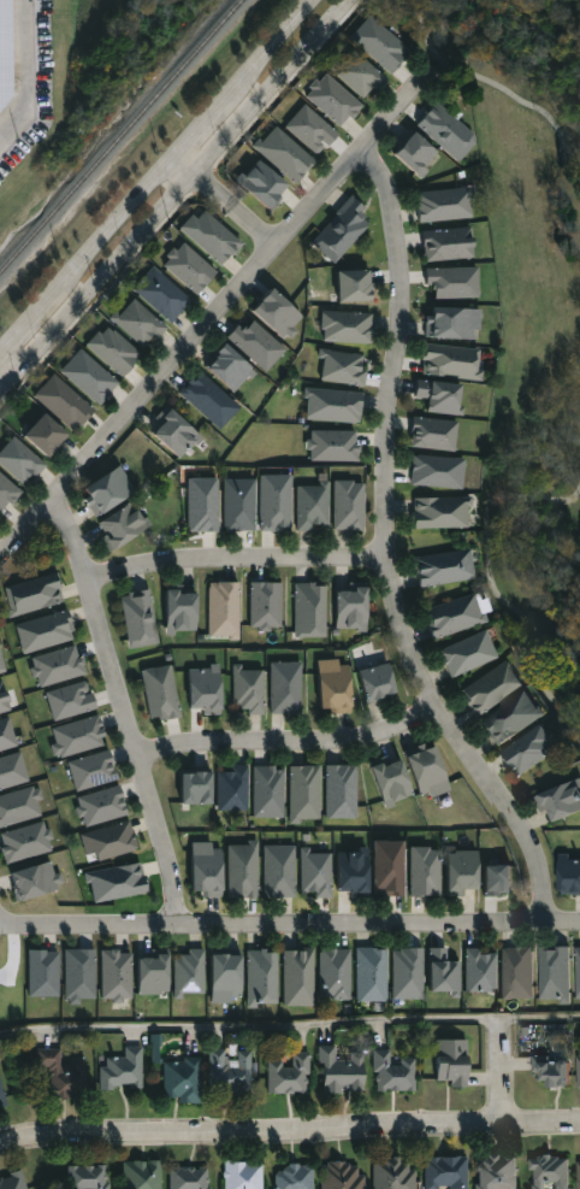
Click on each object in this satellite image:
road: (273, 43)
building: (379, 45)
building: (4, 49)
road: (28, 75)
building: (359, 76)
building: (333, 100)
road: (203, 122)
building: (312, 129)
building: (445, 131)
railway: (120, 135)
building: (284, 153)
building: (414, 155)
road: (184, 166)
building: (260, 183)
road: (213, 192)
road: (176, 196)
building: (443, 206)
road: (112, 225)
road: (253, 225)
building: (343, 231)
building: (211, 236)
building: (448, 243)
building: (189, 267)
building: (454, 282)
building: (353, 287)
building: (161, 295)
road: (214, 308)
building: (277, 314)
park: (529, 314)
park: (532, 319)
building: (138, 324)
road: (26, 325)
building: (452, 325)
building: (348, 328)
building: (256, 345)
building: (113, 351)
road: (0, 355)
road: (11, 364)
building: (450, 364)
building: (227, 369)
building: (344, 369)
building: (89, 377)
building: (439, 396)
building: (208, 400)
building: (64, 404)
building: (333, 406)
building: (433, 434)
building: (173, 435)
building: (45, 437)
building: (333, 446)
building: (19, 463)
building: (436, 472)
building: (106, 492)
building: (6, 493)
building: (276, 504)
building: (202, 506)
building: (239, 506)
building: (348, 506)
building: (312, 507)
building: (439, 514)
building: (120, 526)
road: (385, 548)
road: (233, 557)
building: (442, 570)
building: (34, 595)
building: (266, 605)
building: (223, 611)
building: (310, 611)
building: (349, 611)
building: (179, 613)
building: (452, 618)
building: (138, 619)
building: (45, 634)
building: (464, 654)
building: (57, 665)
building: (1, 666)
park: (575, 672)
building: (374, 683)
building: (331, 687)
building: (285, 689)
building: (487, 689)
building: (202, 690)
building: (247, 693)
building: (160, 694)
building: (4, 699)
building: (70, 700)
road: (120, 706)
building: (508, 718)
building: (6, 734)
building: (77, 736)
road: (286, 738)
building: (525, 751)
building: (12, 770)
building: (91, 770)
building: (425, 772)
building: (390, 782)
building: (193, 788)
building: (232, 788)
building: (267, 791)
building: (341, 791)
building: (304, 793)
building: (557, 802)
building: (20, 806)
building: (101, 806)
building: (25, 842)
building: (108, 842)
building: (387, 869)
building: (206, 870)
building: (242, 870)
building: (279, 871)
building: (424, 871)
building: (350, 872)
building: (460, 873)
building: (315, 875)
building: (568, 877)
building: (497, 879)
building: (35, 881)
building: (117, 882)
road: (378, 920)
road: (88, 922)
building: (480, 971)
building: (189, 972)
building: (443, 972)
building: (43, 973)
building: (150, 973)
building: (552, 973)
building: (578, 973)
building: (79, 975)
building: (116, 975)
building: (335, 975)
building: (371, 975)
building: (407, 975)
building: (516, 975)
building: (262, 977)
building: (298, 977)
building: (224, 978)
road: (539, 1018)
road: (249, 1026)
building: (156, 1048)
building: (450, 1063)
building: (122, 1070)
building: (341, 1072)
road: (499, 1072)
building: (550, 1072)
building: (578, 1072)
building: (231, 1073)
building: (393, 1073)
building: (59, 1076)
building: (290, 1076)
building: (183, 1081)
building: (1, 1099)
road: (289, 1131)
building: (445, 1172)
building: (495, 1172)
building: (546, 1172)
building: (578, 1172)
building: (393, 1173)
building: (142, 1175)
building: (242, 1176)
building: (342, 1176)
building: (87, 1177)
building: (295, 1177)
building: (189, 1178)
building: (13, 1179)

